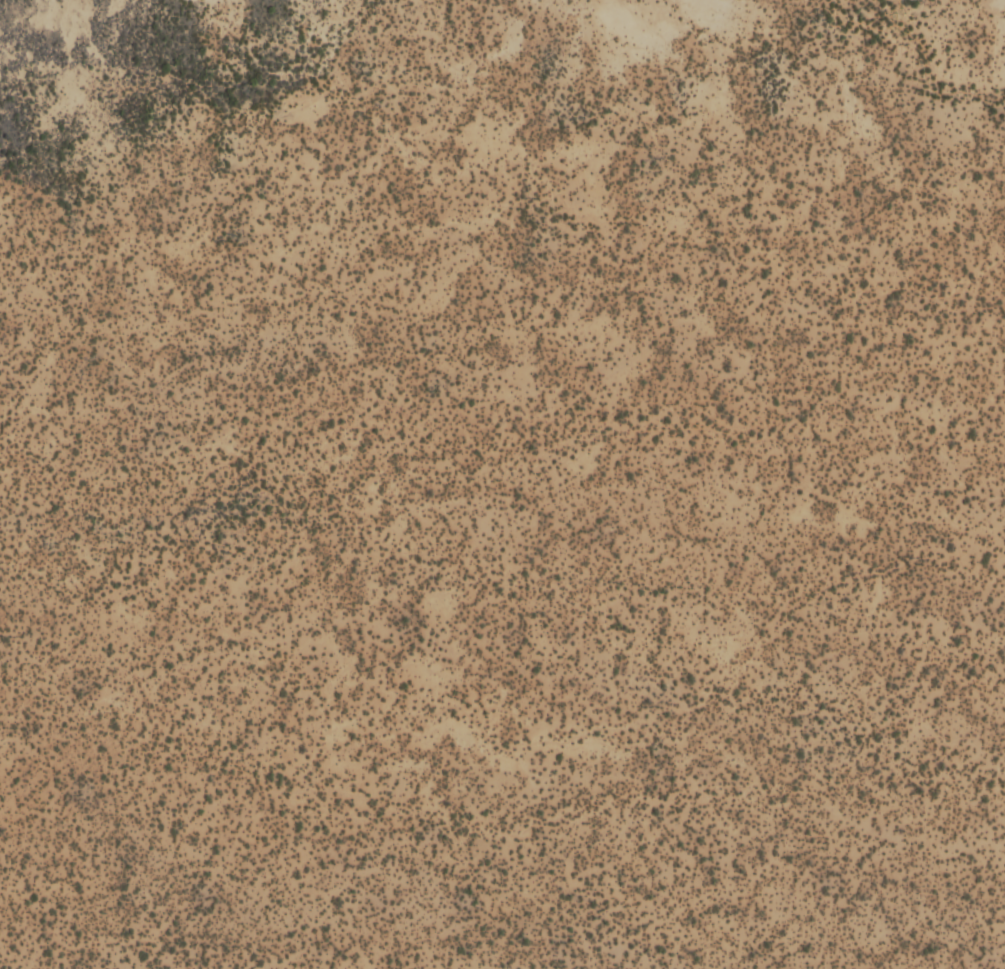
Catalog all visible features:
building: (1004, 87)
building: (952, 128)
building: (801, 289)
building: (634, 352)
building: (519, 377)
building: (738, 391)
building: (786, 411)
building: (925, 460)
building: (655, 531)
building: (996, 535)
building: (732, 556)
building: (998, 569)
building: (967, 712)
building: (578, 769)

